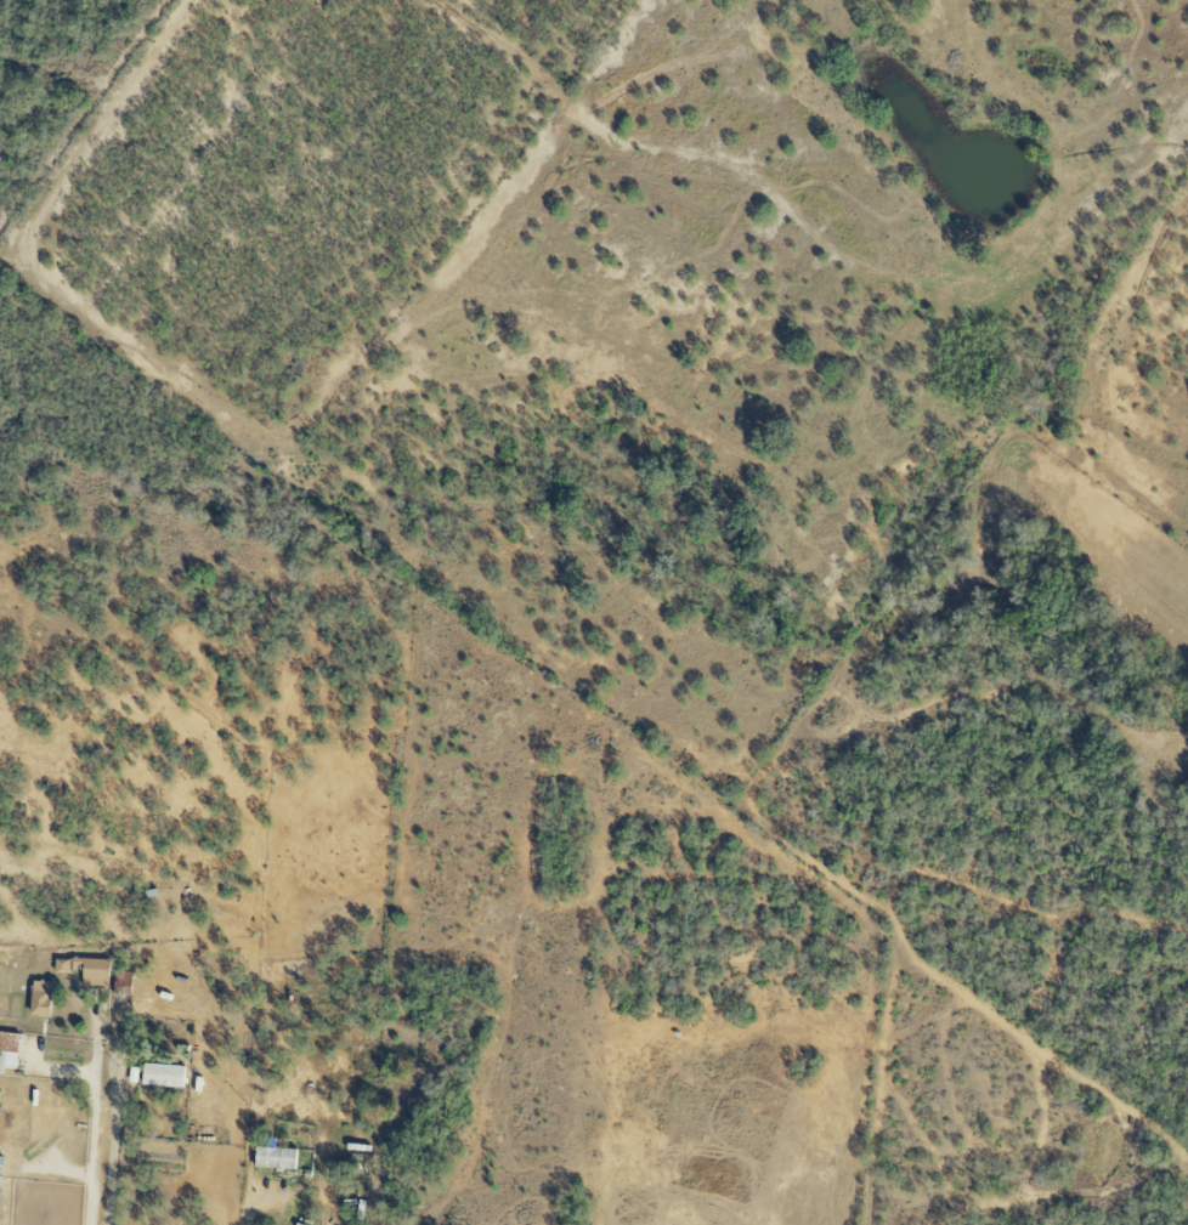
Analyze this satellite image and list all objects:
building: (64, 965)
building: (97, 969)
building: (43, 998)
building: (9, 1050)
building: (164, 1074)
road: (90, 1140)
road: (114, 1146)
building: (277, 1157)
building: (0, 1164)
building: (0, 1185)
road: (251, 1208)
building: (0, 1221)

